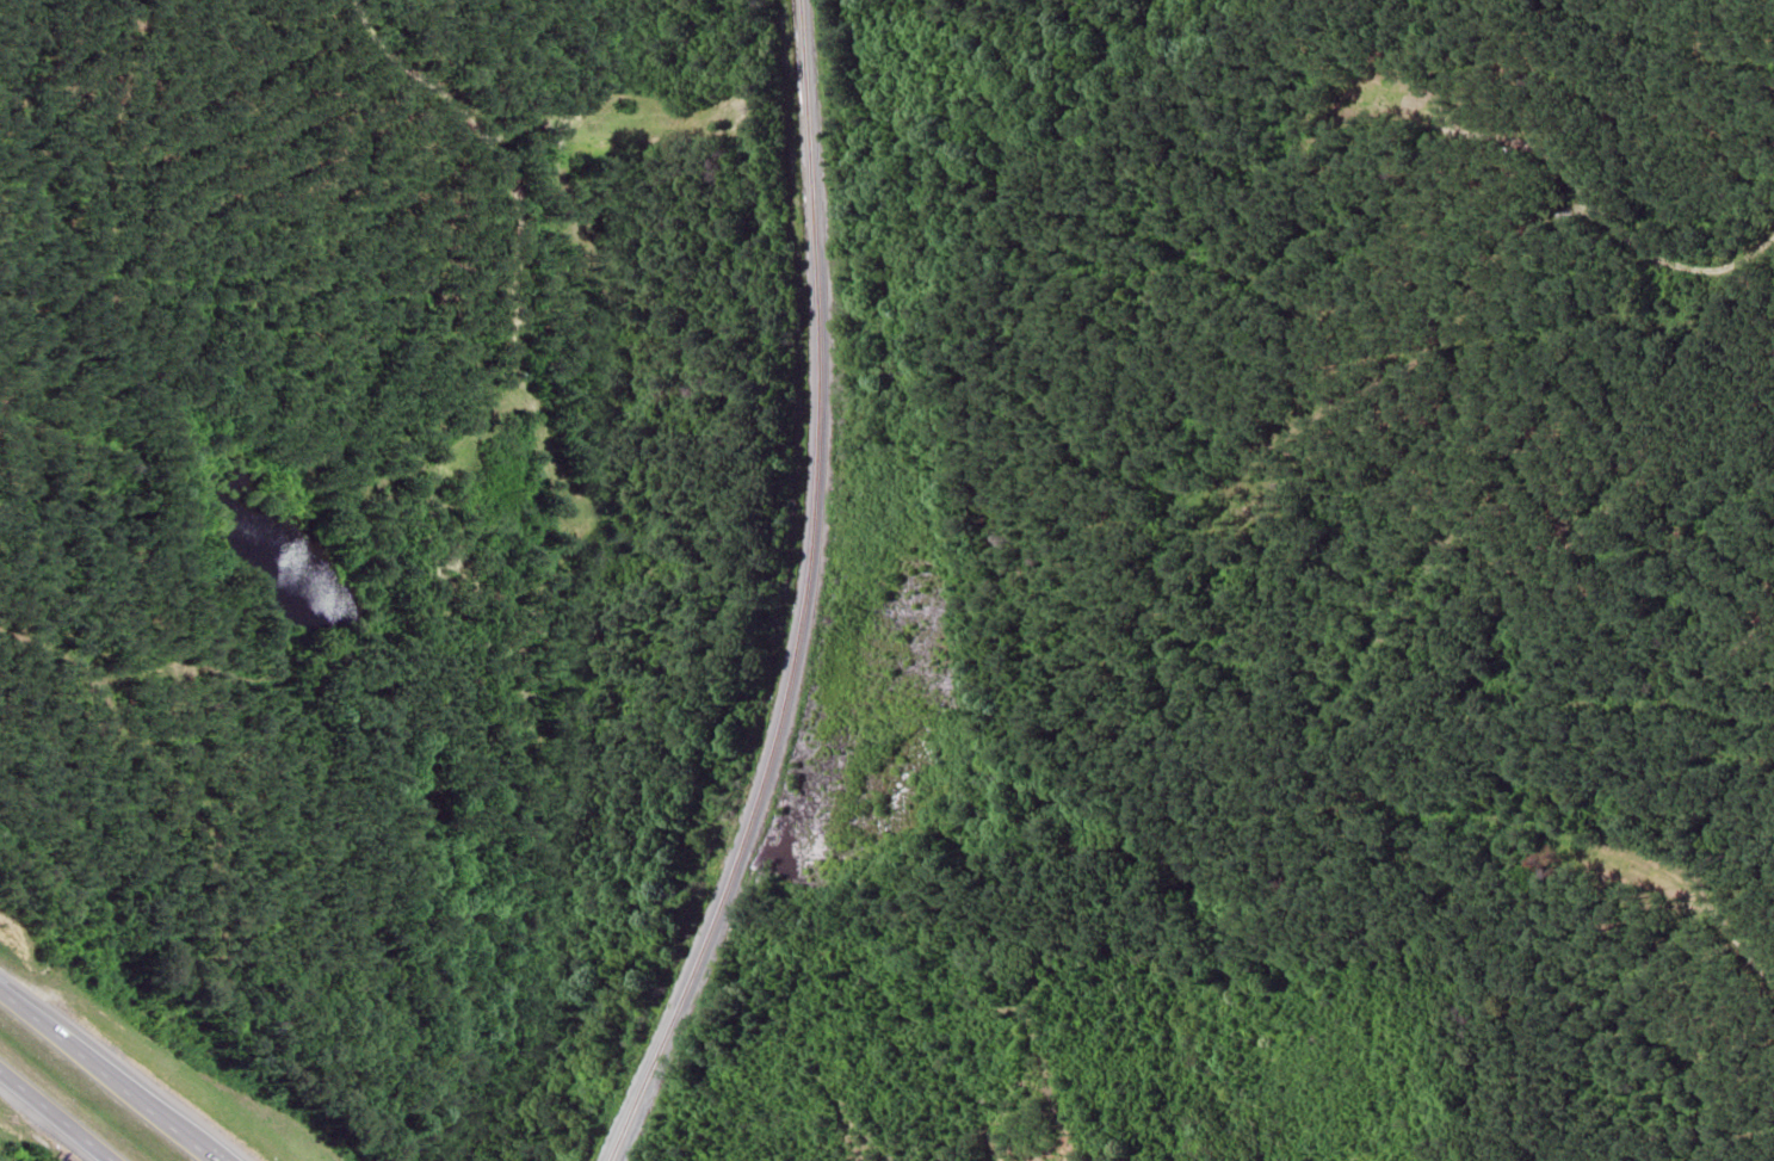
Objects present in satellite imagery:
railway: (805, 597)
road: (110, 1072)
road: (54, 1117)

